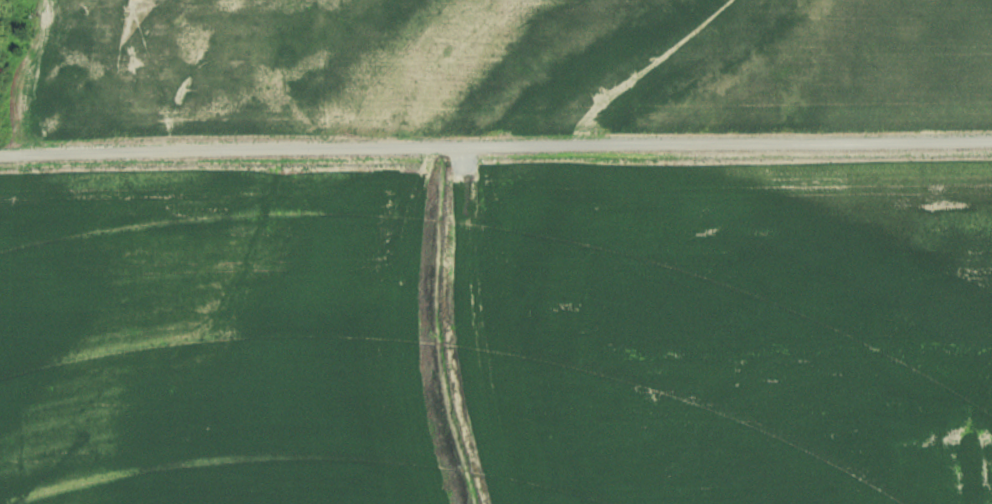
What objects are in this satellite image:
road: (495, 141)

